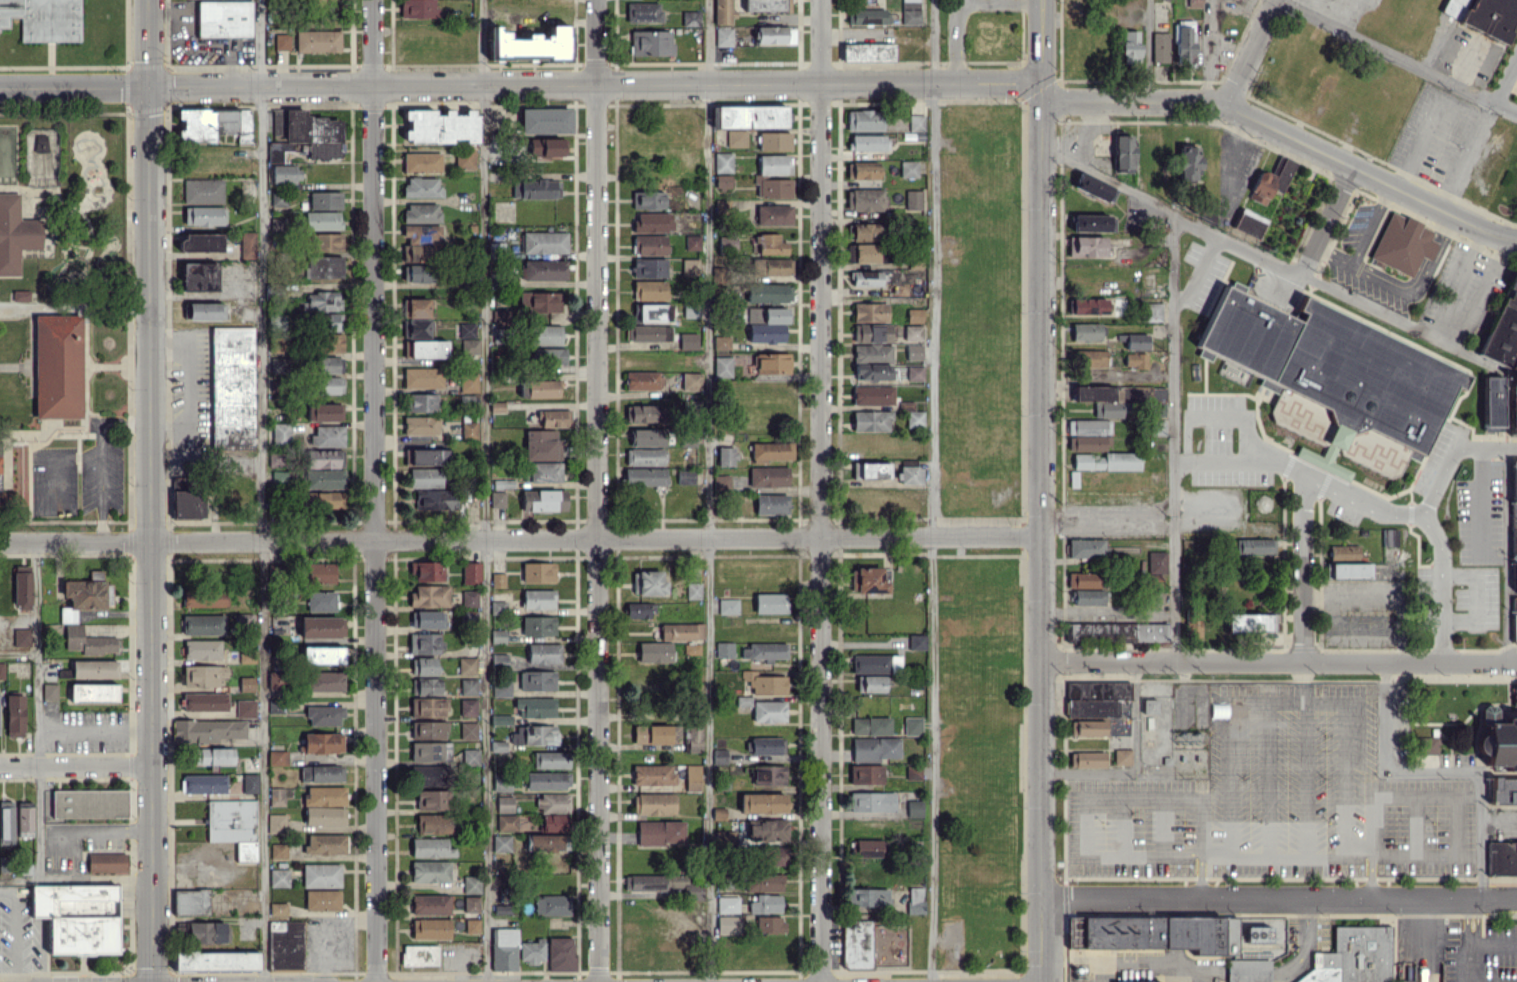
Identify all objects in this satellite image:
road: (999, 1)
building: (1194, 3)
building: (766, 5)
building: (418, 8)
building: (723, 11)
building: (643, 12)
building: (910, 12)
building: (1483, 15)
building: (865, 16)
building: (224, 18)
building: (691, 18)
building: (44, 19)
building: (775, 34)
building: (723, 37)
building: (282, 41)
building: (318, 41)
road: (954, 41)
road: (1041, 41)
building: (1183, 41)
building: (651, 42)
road: (146, 43)
building: (528, 44)
building: (1129, 46)
building: (1159, 47)
road: (1147, 51)
road: (1210, 51)
building: (867, 52)
road: (1249, 53)
road: (1398, 56)
road: (1505, 78)
traffic signals: (1041, 82)
road: (594, 84)
road: (73, 86)
traffic signals: (147, 86)
traffic signals: (1041, 102)
road: (1125, 102)
building: (751, 116)
building: (545, 120)
building: (864, 120)
building: (916, 122)
building: (214, 124)
building: (440, 126)
building: (305, 134)
building: (736, 138)
building: (774, 141)
building: (867, 142)
building: (40, 145)
building: (546, 147)
building: (1123, 153)
building: (464, 158)
building: (1189, 161)
building: (422, 162)
building: (722, 162)
building: (908, 168)
building: (862, 170)
building: (286, 173)
road: (1363, 173)
building: (761, 176)
building: (1270, 180)
building: (722, 181)
building: (422, 187)
building: (1093, 187)
building: (536, 189)
building: (203, 190)
building: (325, 199)
building: (865, 199)
building: (647, 200)
building: (913, 200)
building: (722, 205)
building: (421, 213)
building: (773, 214)
building: (204, 215)
building: (322, 220)
road: (1326, 221)
building: (653, 222)
building: (1091, 223)
building: (1248, 223)
road: (1369, 223)
building: (277, 224)
building: (864, 231)
building: (15, 233)
building: (326, 241)
building: (201, 242)
building: (419, 242)
building: (543, 242)
building: (692, 242)
building: (727, 242)
building: (770, 243)
building: (649, 244)
building: (1402, 244)
building: (247, 245)
building: (1086, 246)
road: (1249, 249)
building: (865, 253)
road: (1333, 253)
street lamp: (1189, 265)
building: (323, 266)
building: (690, 266)
building: (773, 266)
street lamp: (1246, 266)
building: (649, 267)
building: (544, 269)
building: (417, 273)
road: (1198, 273)
parking lot: (1201, 275)
building: (199, 276)
building: (866, 278)
road: (1417, 279)
road: (1313, 280)
road: (1309, 288)
building: (649, 289)
building: (768, 293)
building: (21, 295)
road: (1487, 297)
building: (321, 301)
building: (539, 301)
building: (1086, 305)
road: (74, 307)
building: (415, 307)
building: (203, 311)
building: (690, 311)
building: (869, 311)
building: (1152, 311)
building: (650, 312)
road: (1295, 314)
building: (914, 315)
building: (501, 317)
park: (65, 318)
building: (329, 321)
road: (1362, 322)
road: (1368, 322)
building: (767, 323)
building: (415, 327)
building: (1502, 328)
building: (466, 329)
building: (871, 332)
building: (913, 332)
building: (648, 333)
building: (499, 334)
building: (545, 334)
road: (1195, 334)
building: (688, 340)
building: (1135, 340)
building: (333, 342)
building: (721, 342)
road: (1409, 345)
building: (425, 348)
building: (469, 349)
building: (913, 351)
building: (549, 354)
building: (1088, 357)
building: (1135, 359)
road: (1204, 359)
building: (769, 363)
building: (279, 364)
building: (58, 365)
road: (115, 365)
building: (329, 365)
road: (17, 366)
building: (722, 366)
building: (1193, 371)
building: (914, 372)
building: (1233, 372)
building: (422, 377)
road: (1203, 377)
building: (1332, 377)
building: (643, 380)
building: (691, 381)
building: (468, 382)
building: (330, 385)
road: (188, 387)
road: (1463, 387)
building: (232, 388)
building: (538, 388)
street lamp: (1186, 391)
street lamp: (1241, 391)
road: (1258, 392)
road: (1187, 394)
building: (872, 395)
building: (1116, 397)
road: (1504, 400)
building: (421, 402)
building: (1491, 403)
building: (1513, 405)
building: (498, 406)
building: (324, 411)
building: (644, 413)
building: (911, 414)
building: (554, 417)
road: (1215, 417)
building: (870, 421)
building: (421, 425)
building: (1088, 426)
building: (1156, 427)
building: (468, 430)
building: (280, 432)
road: (1172, 435)
building: (327, 436)
building: (648, 437)
street lamp: (1191, 439)
street lamp: (1235, 439)
building: (1086, 443)
building: (541, 444)
building: (0, 445)
road: (1282, 446)
road: (1487, 448)
building: (770, 451)
parking lot: (1230, 452)
building: (427, 453)
building: (726, 455)
road: (100, 456)
building: (644, 456)
road: (1326, 456)
road: (1414, 456)
parking lot: (1432, 457)
building: (323, 458)
building: (276, 459)
road: (76, 460)
building: (1323, 460)
building: (1107, 461)
road: (1225, 461)
road: (1288, 463)
building: (870, 469)
building: (543, 471)
building: (0, 472)
parking lot: (101, 473)
building: (910, 474)
building: (644, 476)
building: (768, 476)
street lamp: (1187, 476)
building: (425, 477)
building: (685, 477)
building: (322, 479)
road: (1441, 480)
parking lot: (53, 481)
road: (53, 481)
street lamp: (1287, 482)
road: (1324, 482)
building: (502, 483)
building: (721, 483)
street lamp: (1402, 483)
street lamp: (1239, 485)
road: (259, 490)
road: (482, 490)
road: (818, 490)
road: (931, 490)
road: (374, 491)
road: (594, 491)
road: (708, 491)
road: (1348, 494)
road: (1409, 495)
street lamp: (1398, 496)
street lamp: (1442, 496)
building: (321, 499)
building: (435, 499)
building: (498, 499)
building: (186, 500)
building: (543, 500)
building: (1262, 502)
building: (771, 504)
building: (1513, 509)
road: (1409, 512)
road: (1106, 518)
road: (1040, 531)
road: (149, 533)
street lamp: (1420, 533)
building: (1389, 536)
road: (519, 539)
building: (1253, 546)
building: (1086, 547)
building: (1343, 553)
road: (1493, 553)
building: (1154, 567)
road: (1301, 567)
building: (426, 570)
building: (1349, 570)
building: (319, 572)
building: (471, 572)
building: (538, 572)
building: (498, 579)
building: (870, 579)
building: (1083, 579)
building: (648, 582)
road: (1441, 586)
building: (22, 587)
building: (693, 590)
building: (429, 595)
road: (1346, 596)
parking lot: (1475, 596)
building: (203, 597)
building: (1088, 597)
road: (1476, 597)
building: (538, 598)
parking lot: (1423, 598)
building: (469, 599)
building: (321, 600)
building: (770, 603)
building: (728, 606)
building: (67, 616)
building: (427, 619)
building: (1514, 619)
building: (1250, 622)
building: (203, 624)
building: (538, 625)
building: (321, 626)
building: (1196, 627)
building: (681, 631)
building: (1116, 631)
building: (498, 635)
building: (21, 637)
building: (916, 641)
building: (425, 643)
building: (691, 648)
building: (202, 649)
building: (724, 649)
building: (764, 650)
road: (18, 652)
building: (654, 652)
building: (543, 653)
building: (322, 654)
building: (246, 656)
building: (499, 661)
road: (1278, 661)
building: (875, 662)
building: (466, 665)
building: (423, 666)
building: (90, 669)
building: (203, 675)
building: (277, 680)
building: (537, 680)
building: (323, 681)
building: (246, 683)
building: (764, 683)
building: (870, 683)
building: (425, 686)
building: (468, 686)
building: (501, 688)
building: (49, 691)
building: (92, 692)
building: (1095, 697)
building: (1516, 697)
building: (743, 700)
building: (204, 701)
building: (535, 706)
building: (1149, 706)
building: (427, 707)
building: (468, 707)
building: (245, 708)
road: (37, 709)
building: (1218, 709)
building: (768, 711)
building: (14, 715)
building: (324, 715)
building: (502, 719)
road: (1234, 724)
building: (870, 725)
building: (912, 725)
building: (1087, 727)
building: (428, 729)
building: (207, 730)
building: (468, 730)
building: (534, 734)
building: (651, 734)
building: (1497, 739)
building: (321, 742)
building: (499, 745)
building: (767, 745)
building: (1428, 745)
building: (875, 748)
building: (430, 751)
road: (1345, 755)
building: (213, 756)
building: (719, 756)
building: (1122, 756)
building: (277, 757)
building: (549, 759)
building: (1086, 759)
road: (74, 766)
road: (1447, 768)
building: (912, 772)
building: (321, 773)
building: (652, 774)
building: (768, 774)
building: (866, 774)
building: (429, 775)
building: (692, 777)
building: (546, 780)
building: (501, 782)
building: (203, 783)
building: (249, 783)
road: (1173, 792)
road: (1400, 794)
building: (324, 795)
building: (276, 796)
building: (431, 799)
building: (871, 801)
building: (552, 802)
building: (762, 802)
building: (504, 803)
building: (653, 803)
building: (86, 804)
building: (914, 808)
building: (324, 816)
building: (24, 817)
building: (6, 822)
building: (276, 822)
building: (506, 822)
building: (552, 822)
road: (1084, 822)
building: (432, 823)
road: (1415, 823)
road: (1455, 824)
building: (233, 825)
building: (765, 829)
road: (101, 831)
building: (660, 832)
building: (725, 838)
building: (545, 842)
building: (501, 843)
building: (325, 844)
building: (431, 847)
building: (865, 847)
building: (278, 850)
road: (1142, 852)
road: (1424, 852)
road: (1284, 853)
building: (776, 855)
flagpole: (128, 858)
building: (1501, 858)
building: (106, 862)
building: (429, 871)
road: (1370, 874)
building: (321, 875)
road: (1200, 876)
building: (278, 877)
road: (74, 878)
building: (643, 882)
building: (763, 882)
building: (471, 884)
building: (681, 885)
road: (6, 891)
building: (868, 898)
building: (322, 899)
building: (915, 899)
road: (1278, 899)
flagpole: (116, 900)
building: (552, 900)
building: (191, 901)
building: (765, 903)
building: (430, 904)
building: (471, 904)
building: (726, 904)
building: (278, 908)
building: (77, 916)
parking lot: (10, 924)
building: (727, 924)
building: (769, 924)
building: (471, 925)
building: (430, 928)
building: (206, 932)
road: (14, 936)
building: (1193, 938)
road: (1469, 941)
building: (856, 943)
building: (285, 944)
road: (1493, 944)
building: (504, 949)
building: (531, 951)
building: (560, 953)
parking lot: (1483, 953)
building: (418, 955)
flagpole: (117, 957)
building: (1357, 958)
building: (216, 960)
building: (1122, 979)

